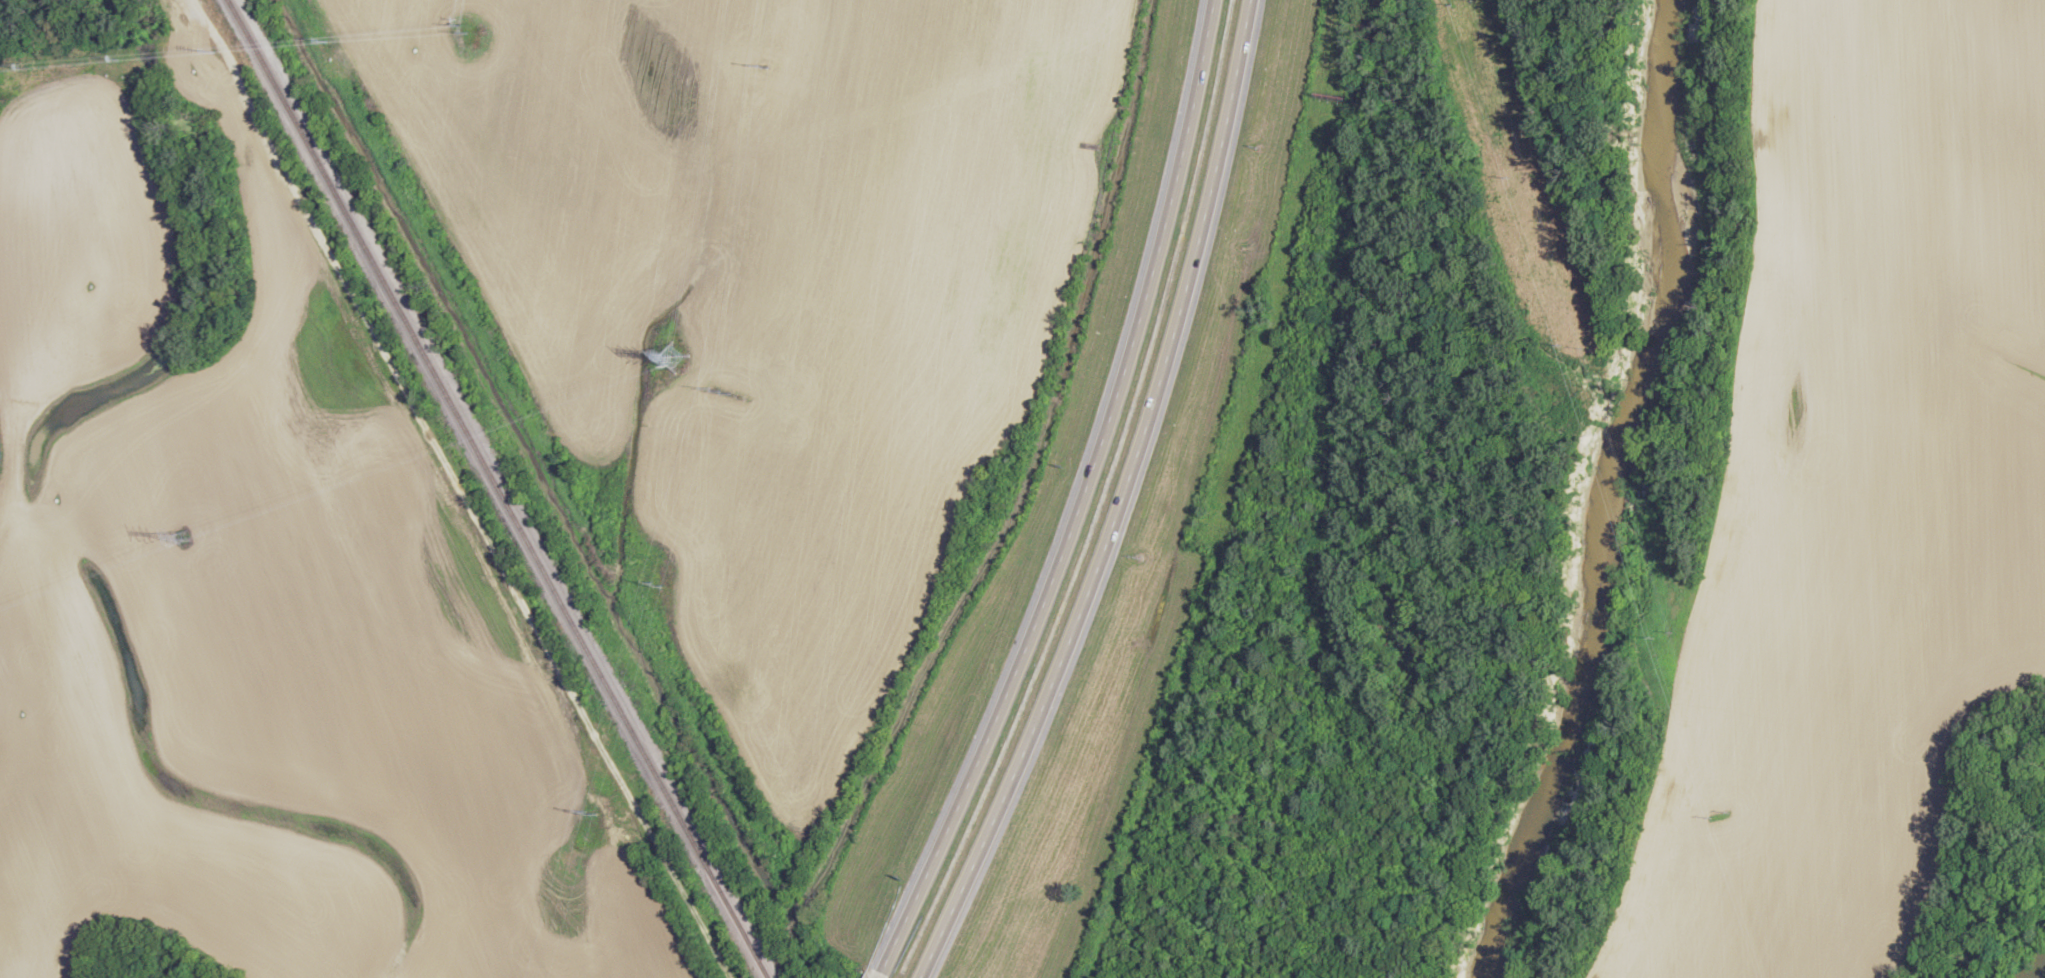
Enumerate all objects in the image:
power tower: (766, 66)
power tower: (677, 357)
power tower: (717, 394)
railway: (501, 489)
river: (1593, 490)
road: (1124, 499)
road: (1084, 500)
aquafarm: (1, 509)
power tower: (186, 537)
river: (2032, 966)

